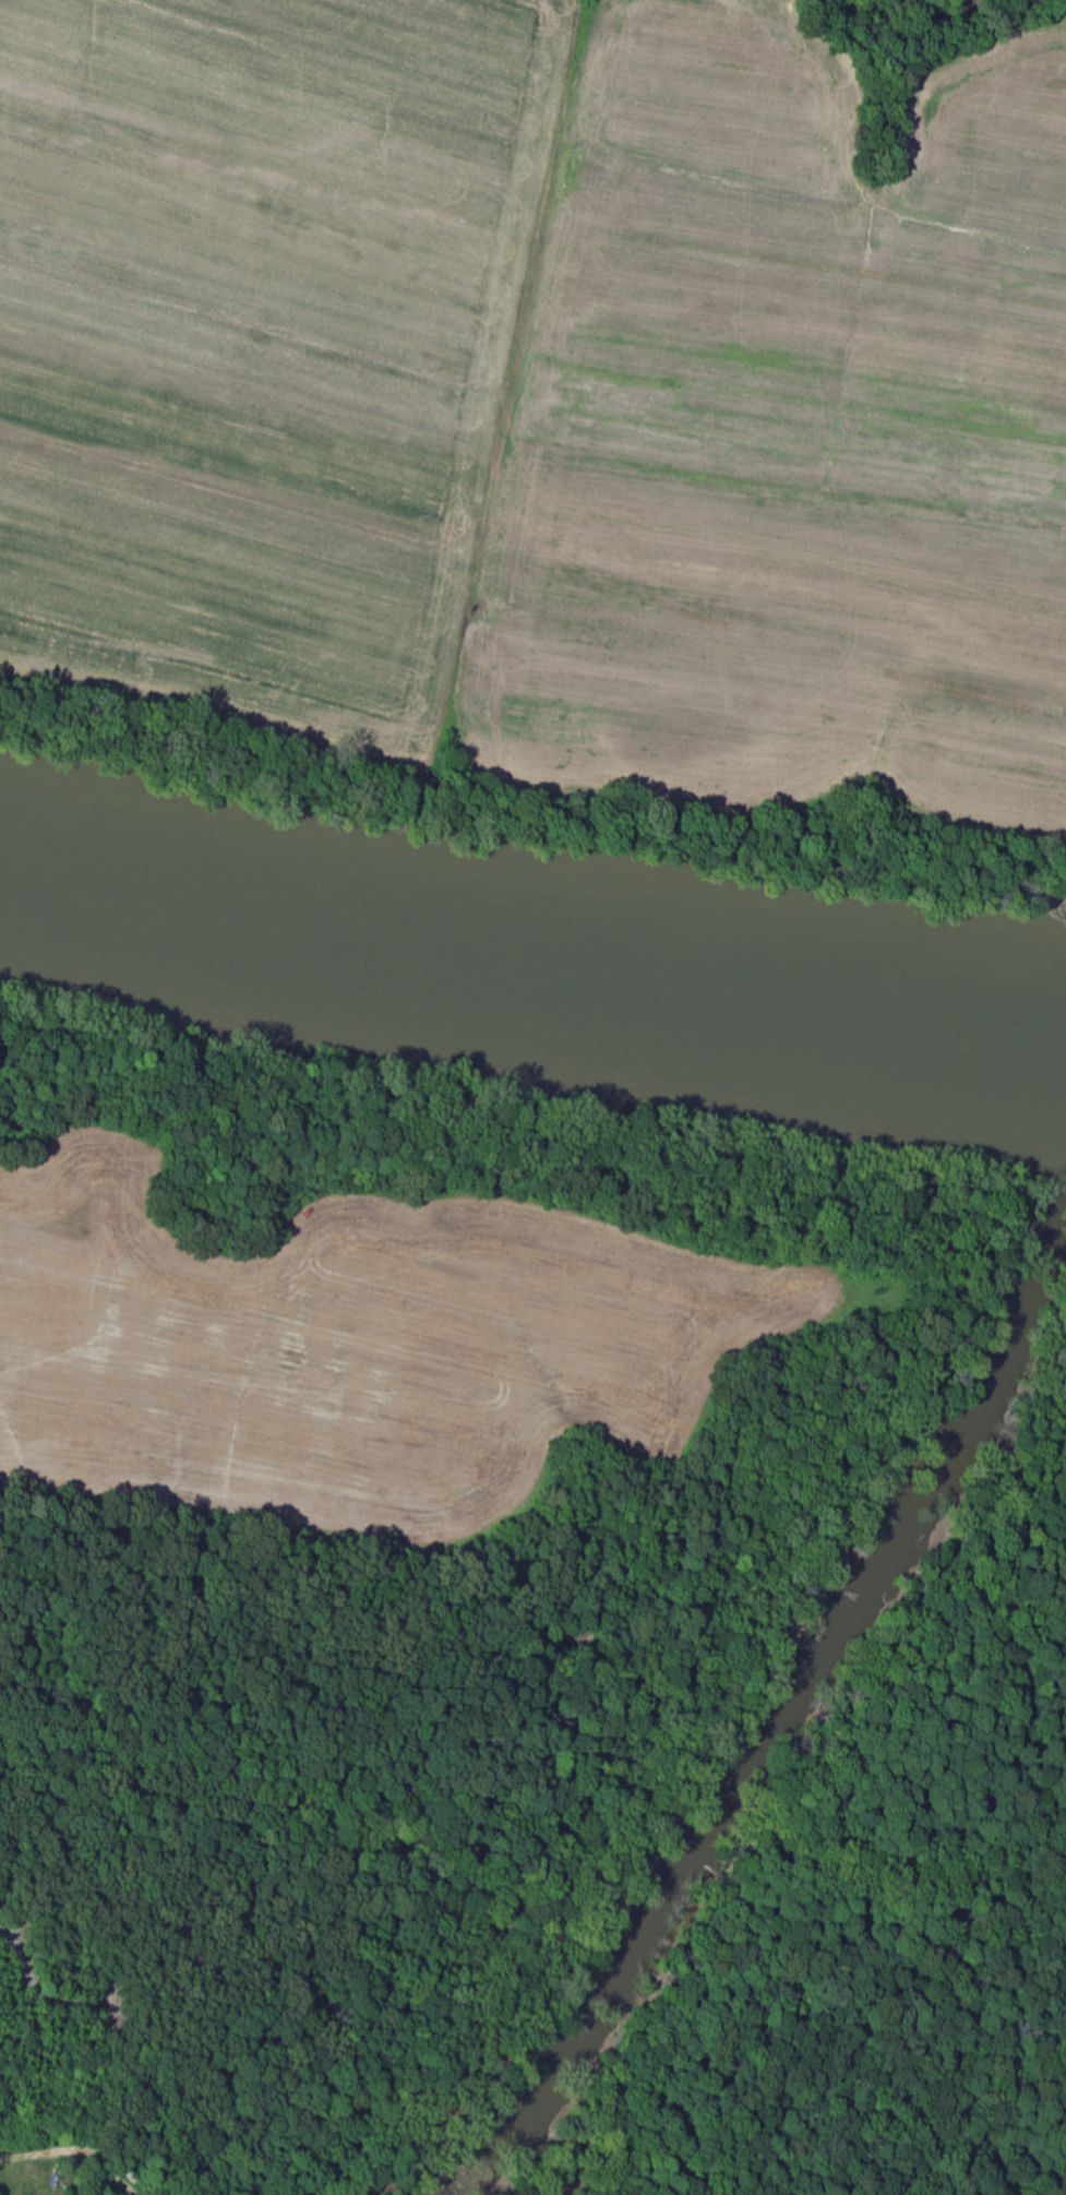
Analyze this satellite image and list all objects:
river: (532, 951)
river: (793, 1704)
road: (118, 1841)

